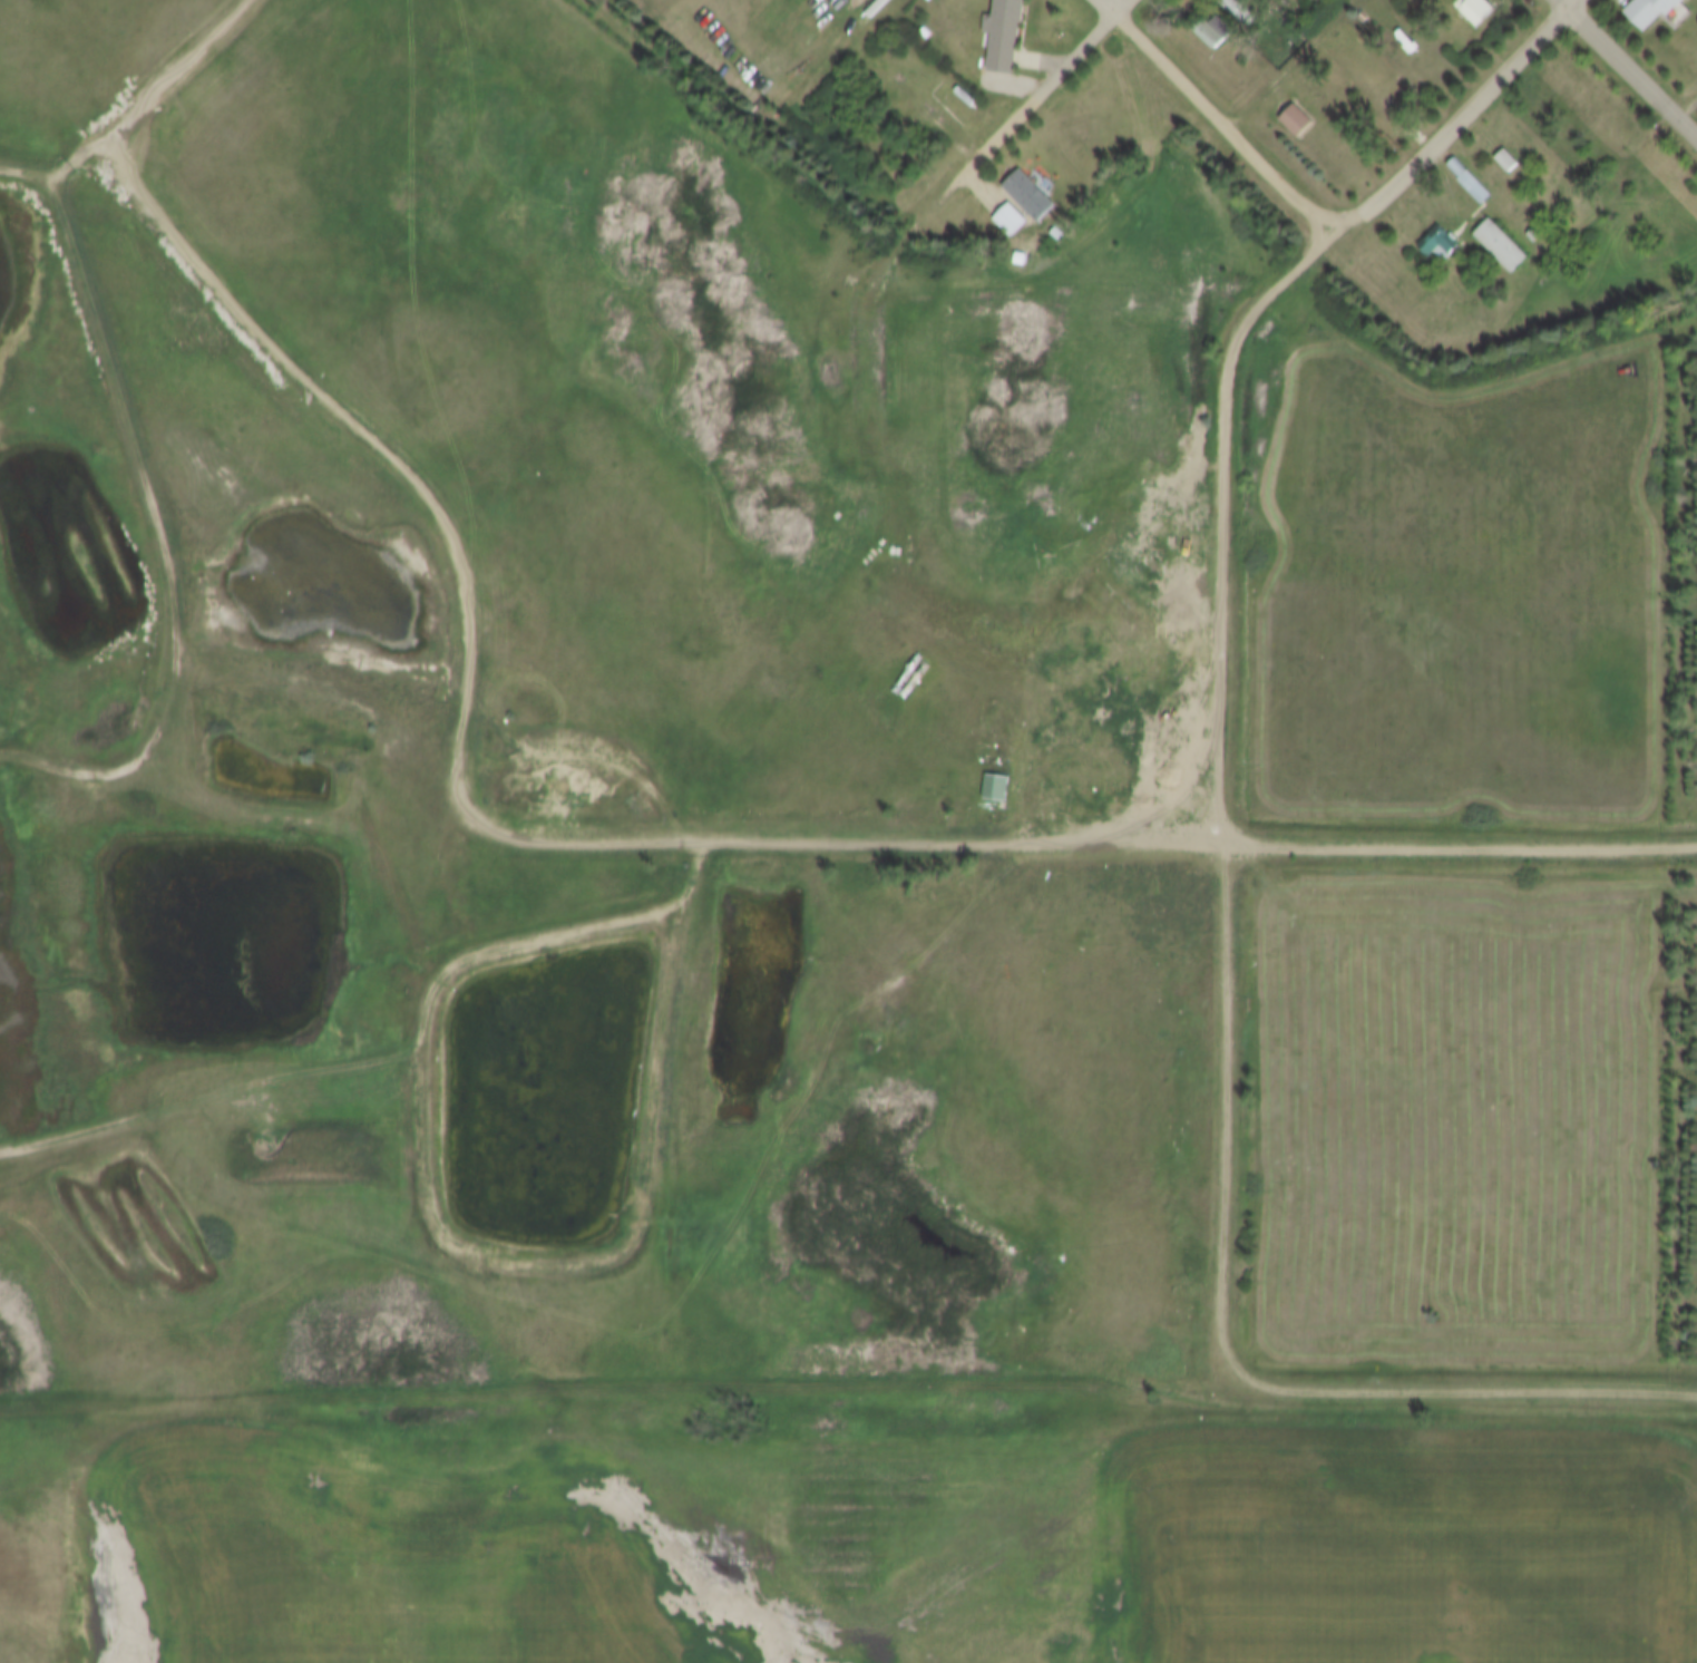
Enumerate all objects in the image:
building: (1477, 9)
road: (1125, 10)
building: (1246, 10)
building: (1654, 11)
building: (1217, 32)
building: (1007, 33)
road: (1076, 62)
road: (1298, 69)
road: (1627, 69)
road: (137, 113)
building: (1298, 120)
road: (1216, 123)
road: (1467, 123)
building: (1508, 162)
road: (977, 165)
building: (1471, 182)
building: (1031, 197)
building: (1011, 221)
building: (1056, 235)
building: (1534, 236)
building: (1441, 246)
building: (1503, 246)
building: (1033, 249)
road: (323, 438)
road: (168, 547)
building: (997, 789)
road: (1049, 849)
road: (1230, 1017)

